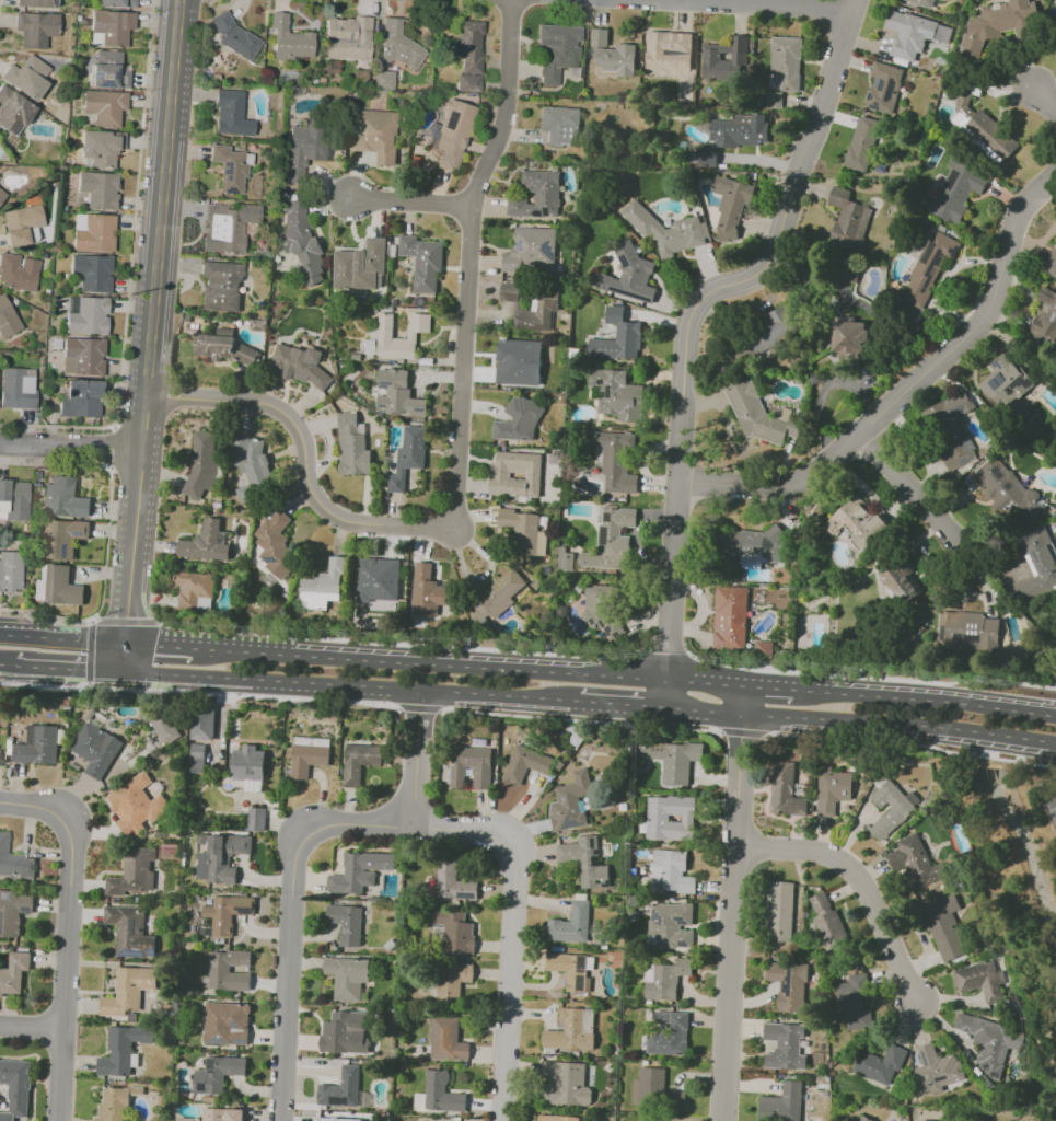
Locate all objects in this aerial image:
road: (0, 2)
building: (924, 2)
building: (37, 3)
building: (118, 3)
road: (779, 3)
building: (1001, 18)
building: (112, 27)
building: (36, 28)
rooftop solar panel: (941, 30)
building: (234, 36)
building: (909, 36)
building: (288, 39)
building: (1055, 42)
building: (351, 44)
building: (401, 45)
building: (469, 47)
building: (1055, 49)
building: (665, 53)
building: (613, 54)
building: (559, 55)
building: (712, 61)
building: (786, 63)
building: (109, 71)
rooftop solar panel: (114, 74)
rooftop solar panel: (94, 77)
building: (27, 78)
building: (383, 82)
rooftop solar panel: (103, 84)
building: (467, 84)
building: (883, 85)
building: (773, 100)
road: (1045, 101)
building: (105, 106)
building: (963, 106)
building: (13, 111)
building: (229, 115)
building: (559, 125)
rooftop solar panel: (433, 130)
building: (739, 130)
building: (452, 131)
building: (374, 134)
building: (993, 137)
building: (861, 143)
building: (100, 149)
building: (304, 149)
building: (707, 158)
rooftop solar panel: (228, 169)
building: (229, 169)
building: (100, 189)
rooftop solar panel: (229, 189)
building: (955, 189)
building: (536, 194)
building: (2, 195)
road: (162, 197)
building: (730, 197)
road: (410, 200)
building: (849, 213)
building: (23, 224)
building: (229, 228)
building: (668, 230)
building: (94, 232)
building: (301, 242)
rooftop solar panel: (520, 245)
rooftop solar panel: (547, 250)
building: (533, 251)
road: (468, 259)
building: (422, 262)
building: (1052, 264)
building: (361, 265)
building: (930, 267)
road: (130, 270)
building: (93, 271)
building: (19, 273)
building: (628, 275)
road: (942, 279)
building: (848, 281)
building: (220, 287)
rooftop solar panel: (633, 293)
building: (532, 307)
building: (1047, 308)
building: (88, 315)
building: (8, 319)
road: (688, 325)
building: (773, 330)
building: (398, 332)
building: (849, 337)
building: (617, 338)
building: (224, 348)
building: (83, 356)
building: (521, 363)
rooftop solar panel: (998, 365)
building: (303, 367)
rooftop solar panel: (601, 380)
rooftop solar panel: (1000, 380)
rooftop solar panel: (1019, 383)
road: (908, 388)
building: (1010, 388)
building: (19, 389)
road: (824, 389)
rooftop solar panel: (607, 391)
building: (45, 393)
building: (617, 394)
building: (402, 395)
building: (81, 397)
building: (754, 412)
building: (519, 420)
road: (728, 428)
building: (952, 428)
rooftop solar panel: (967, 442)
road: (72, 446)
building: (355, 446)
road: (111, 448)
road: (303, 455)
building: (408, 457)
building: (613, 462)
building: (201, 464)
building: (253, 466)
rooftop solar panel: (996, 469)
building: (515, 475)
rooftop solar panel: (1007, 487)
building: (39, 490)
road: (910, 492)
building: (65, 498)
building: (14, 500)
rooftop solar panel: (606, 516)
building: (858, 522)
building: (524, 530)
road: (136, 533)
rooftop solar panel: (604, 534)
road: (107, 536)
building: (63, 538)
building: (611, 539)
building: (207, 542)
building: (275, 543)
building: (755, 543)
rooftop solar panel: (1032, 555)
rooftop solar panel: (270, 559)
building: (565, 560)
building: (1042, 565)
building: (11, 570)
building: (379, 577)
building: (901, 582)
building: (57, 585)
building: (323, 586)
building: (195, 589)
building: (426, 591)
building: (501, 593)
building: (603, 609)
building: (730, 616)
traffic signals: (127, 617)
road: (92, 620)
building: (970, 634)
road: (62, 637)
road: (393, 643)
traffic signals: (155, 645)
road: (159, 645)
road: (661, 652)
road: (8, 663)
road: (469, 664)
road: (68, 668)
traffic signals: (84, 669)
road: (847, 674)
road: (1020, 682)
road: (1042, 684)
road: (44, 685)
road: (770, 685)
road: (350, 686)
road: (242, 694)
road: (896, 697)
road: (622, 706)
road: (1012, 707)
road: (418, 708)
road: (1042, 710)
road: (579, 719)
road: (824, 721)
building: (202, 723)
building: (166, 727)
road: (741, 733)
road: (998, 736)
road: (1035, 741)
building: (38, 744)
building: (96, 750)
building: (0, 754)
building: (310, 754)
building: (197, 758)
road: (416, 759)
building: (361, 761)
building: (680, 762)
building: (248, 763)
building: (527, 763)
building: (481, 778)
building: (833, 788)
building: (784, 789)
rooftop solar panel: (564, 799)
building: (571, 802)
building: (138, 804)
building: (892, 808)
building: (657, 817)
building: (257, 818)
rooftop solar panel: (570, 823)
building: (201, 839)
rooftop solar panel: (235, 843)
building: (222, 857)
building: (584, 859)
building: (915, 859)
building: (14, 862)
building: (359, 871)
building: (672, 872)
building: (134, 874)
building: (454, 882)
road: (863, 882)
rooftop solar panel: (4, 897)
road: (733, 902)
building: (820, 903)
rooftop solar panel: (30, 910)
rooftop solar panel: (246, 910)
building: (779, 910)
building: (13, 912)
building: (228, 912)
rooftop solar panel: (657, 914)
rooftop solar panel: (1, 920)
rooftop solar panel: (682, 920)
building: (571, 921)
road: (295, 922)
building: (348, 923)
rooftop solar panel: (136, 924)
building: (670, 926)
building: (950, 927)
road: (517, 928)
building: (130, 931)
building: (831, 931)
building: (454, 932)
road: (68, 939)
rooftop solar panel: (683, 944)
rooftop solar panel: (581, 964)
building: (230, 970)
building: (13, 973)
building: (575, 973)
rooftop solar panel: (581, 973)
building: (348, 976)
building: (665, 979)
building: (983, 980)
building: (450, 981)
rooftop solar panel: (581, 985)
building: (787, 985)
building: (129, 991)
building: (854, 999)
building: (227, 1022)
rooftop solar panel: (236, 1025)
road: (33, 1026)
building: (572, 1030)
building: (668, 1032)
building: (338, 1033)
building: (448, 1039)
rooftop solar panel: (223, 1040)
building: (991, 1041)
rooftop solar panel: (237, 1042)
building: (786, 1045)
building: (121, 1049)
rooftop solar panel: (214, 1058)
rooftop solar panel: (922, 1058)
building: (881, 1063)
rooftop solar panel: (213, 1066)
building: (938, 1067)
building: (217, 1075)
rooftop solar panel: (938, 1079)
building: (565, 1083)
building: (16, 1085)
rooftop solar panel: (196, 1085)
rooftop solar panel: (204, 1087)
building: (341, 1088)
building: (657, 1093)
building: (439, 1094)
rooftop solar panel: (338, 1099)
building: (114, 1105)
building: (777, 1105)
building: (212, 1114)
building: (234, 1114)
building: (7, 1117)
building: (557, 1118)
building: (185, 1119)
building: (330, 1119)
building: (652, 1119)
building: (866, 1119)
building: (642, 1120)
building: (927, 1120)

